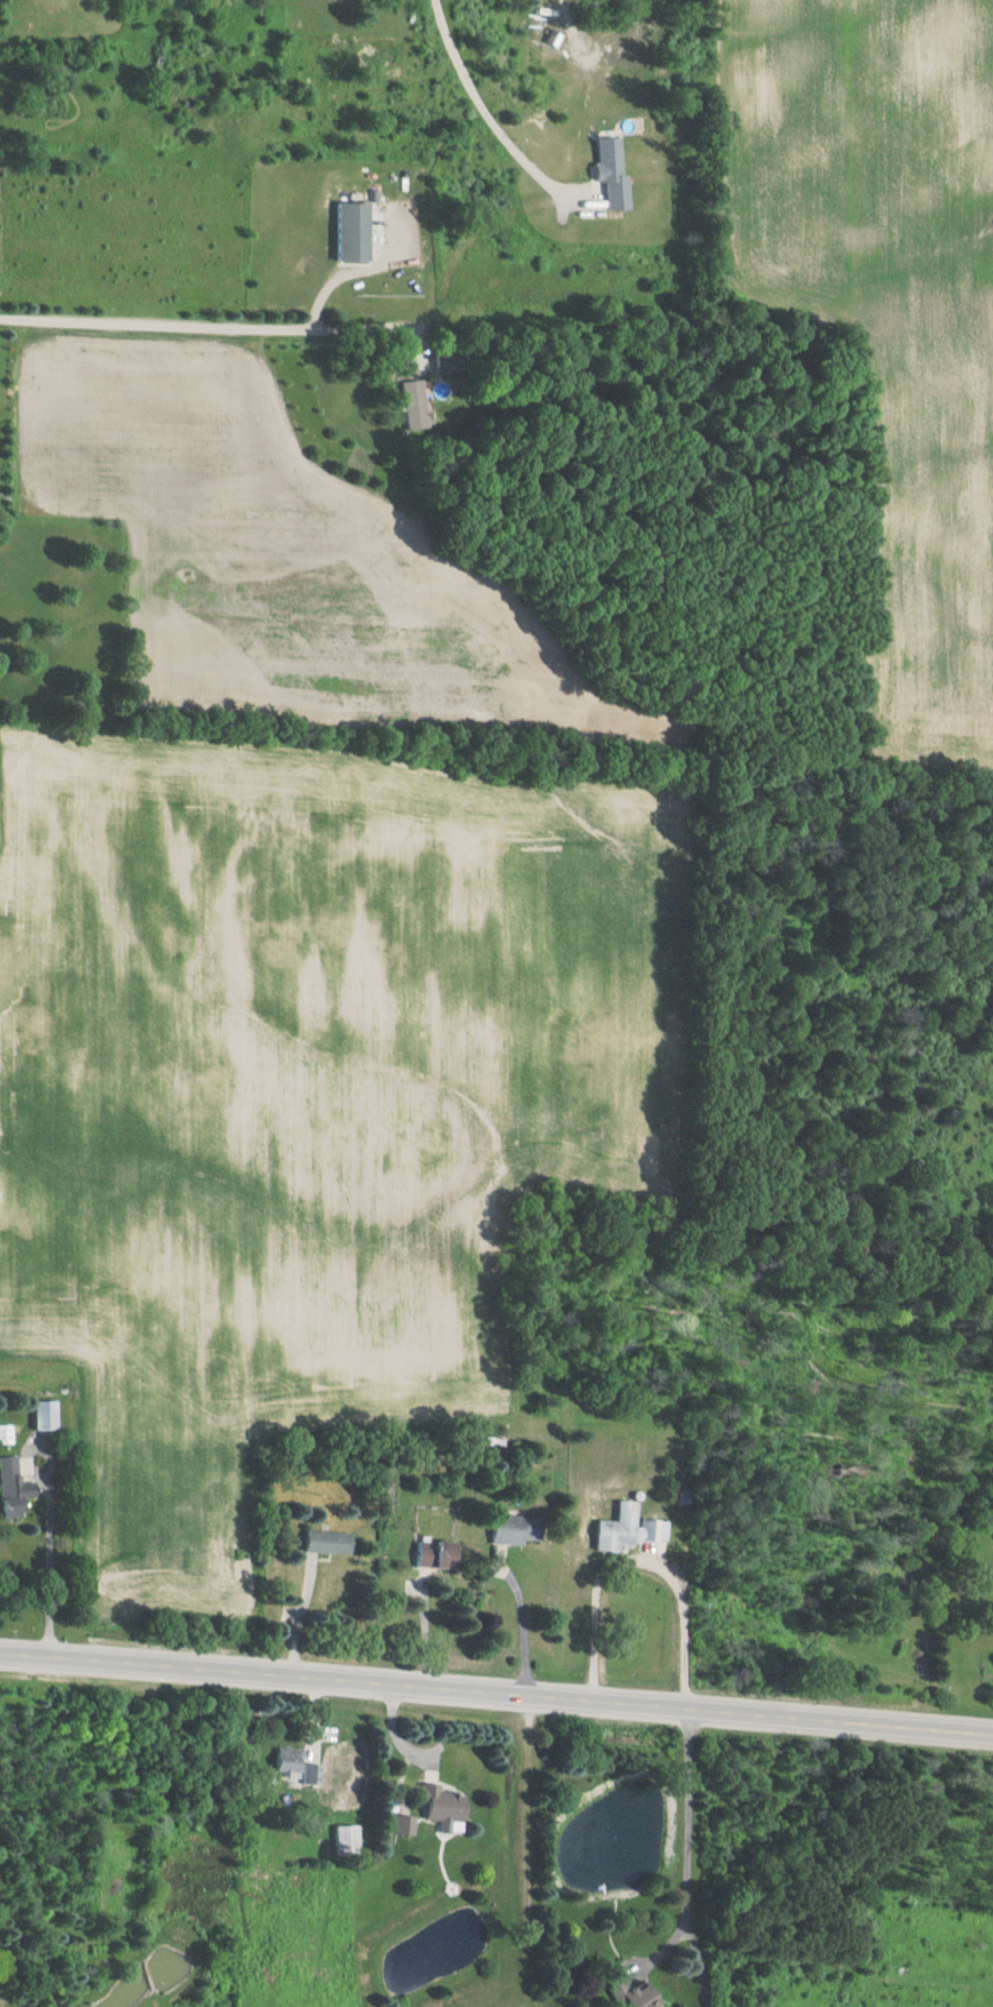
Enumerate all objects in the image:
building: (557, 39)
road: (487, 86)
building: (346, 231)
road: (200, 317)
building: (407, 405)
building: (36, 1414)
building: (2, 1433)
building: (491, 1444)
building: (8, 1490)
building: (507, 1528)
building: (643, 1530)
building: (608, 1534)
building: (318, 1542)
building: (425, 1553)
road: (496, 1694)
building: (283, 1760)
building: (309, 1775)
building: (437, 1805)
building: (344, 1840)
building: (624, 1995)

